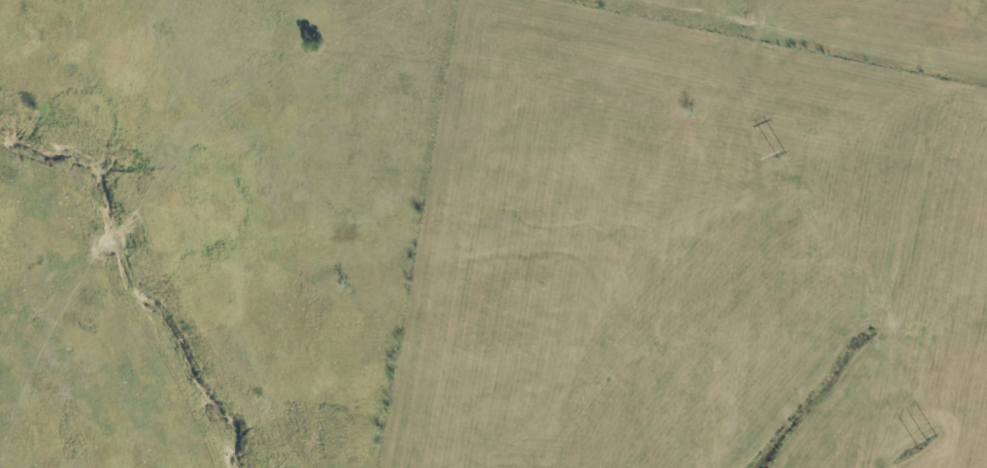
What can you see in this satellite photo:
power tower: (791, 154)
power tower: (929, 444)

